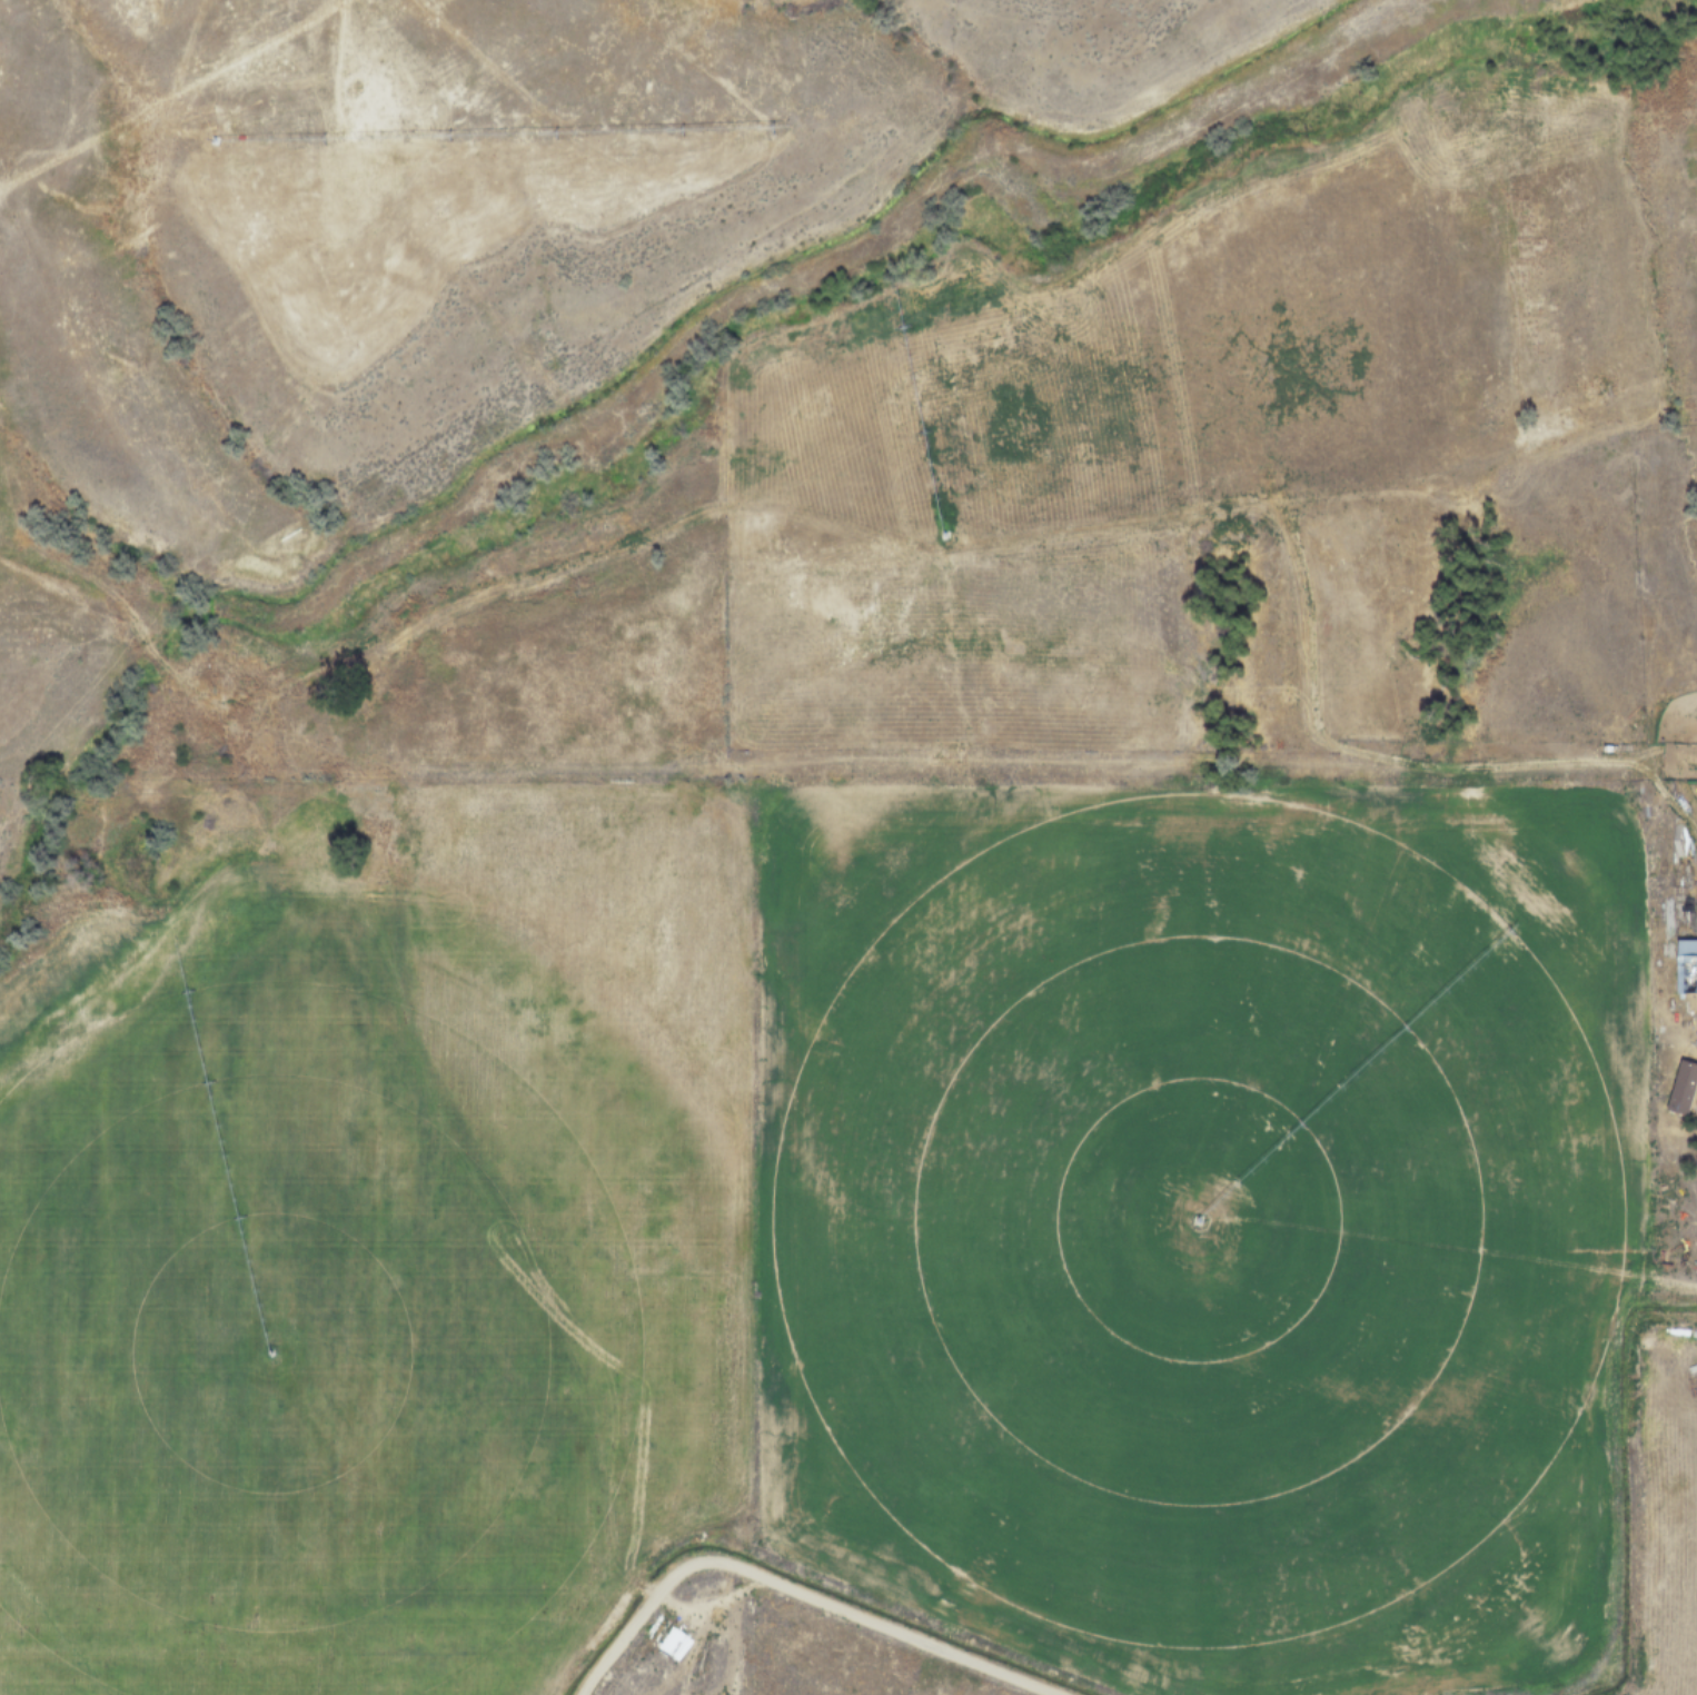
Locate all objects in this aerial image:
building: (1686, 964)
building: (1681, 1086)
road: (795, 1589)

